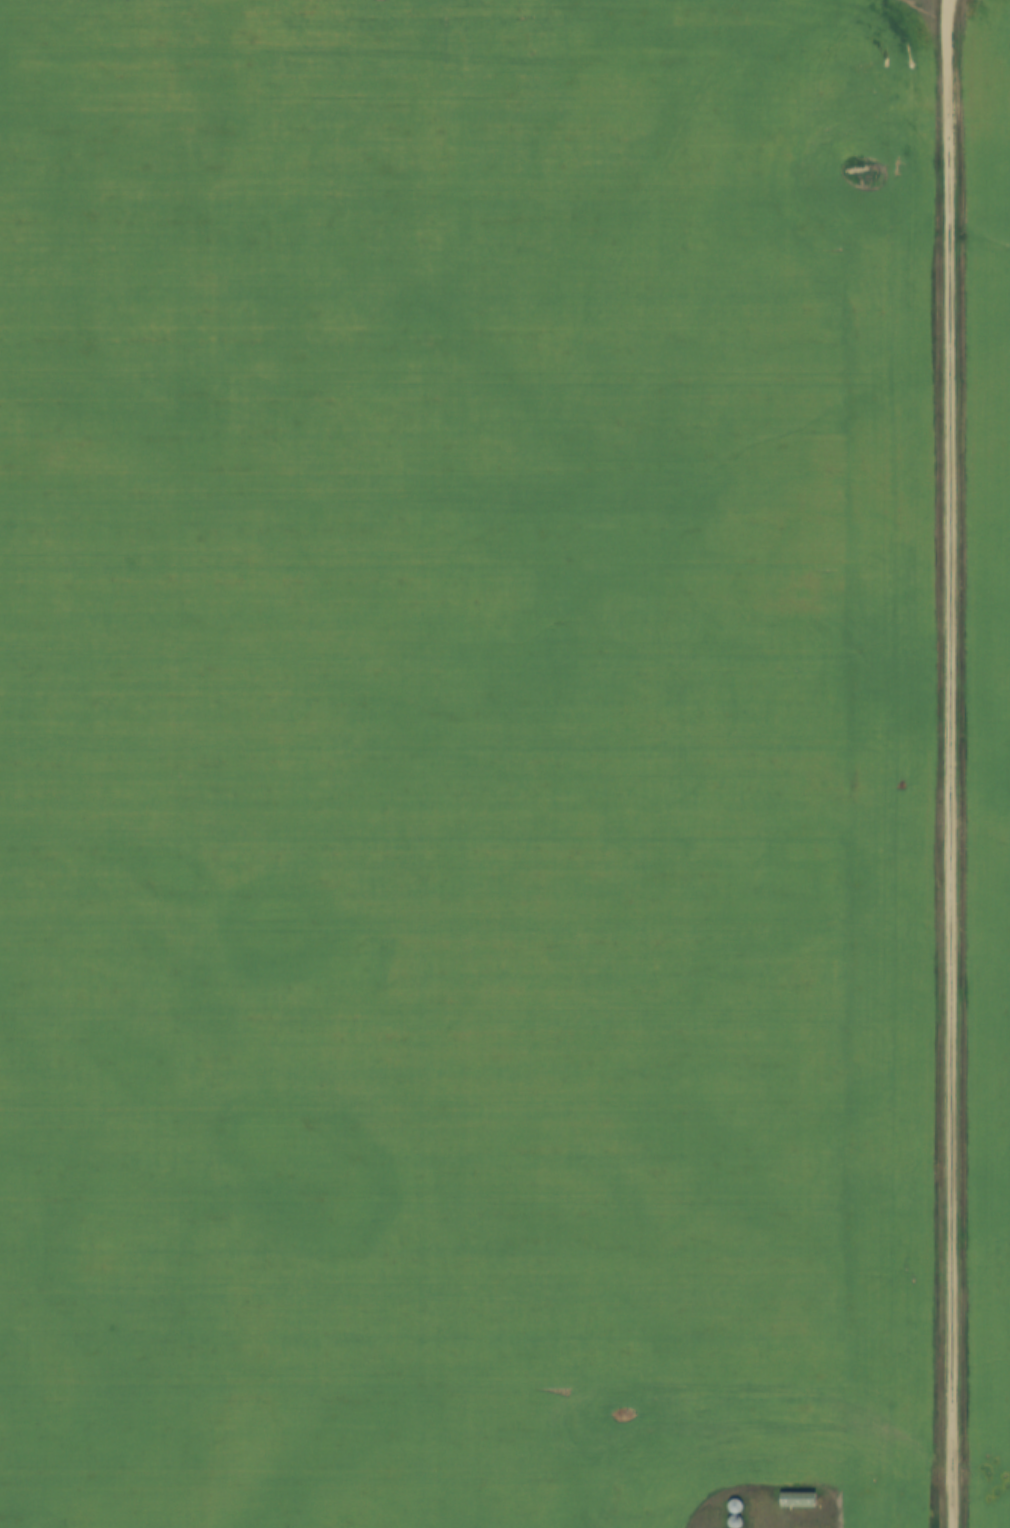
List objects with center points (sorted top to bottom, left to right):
road: (949, 763)
building: (798, 1499)
building: (734, 1514)

